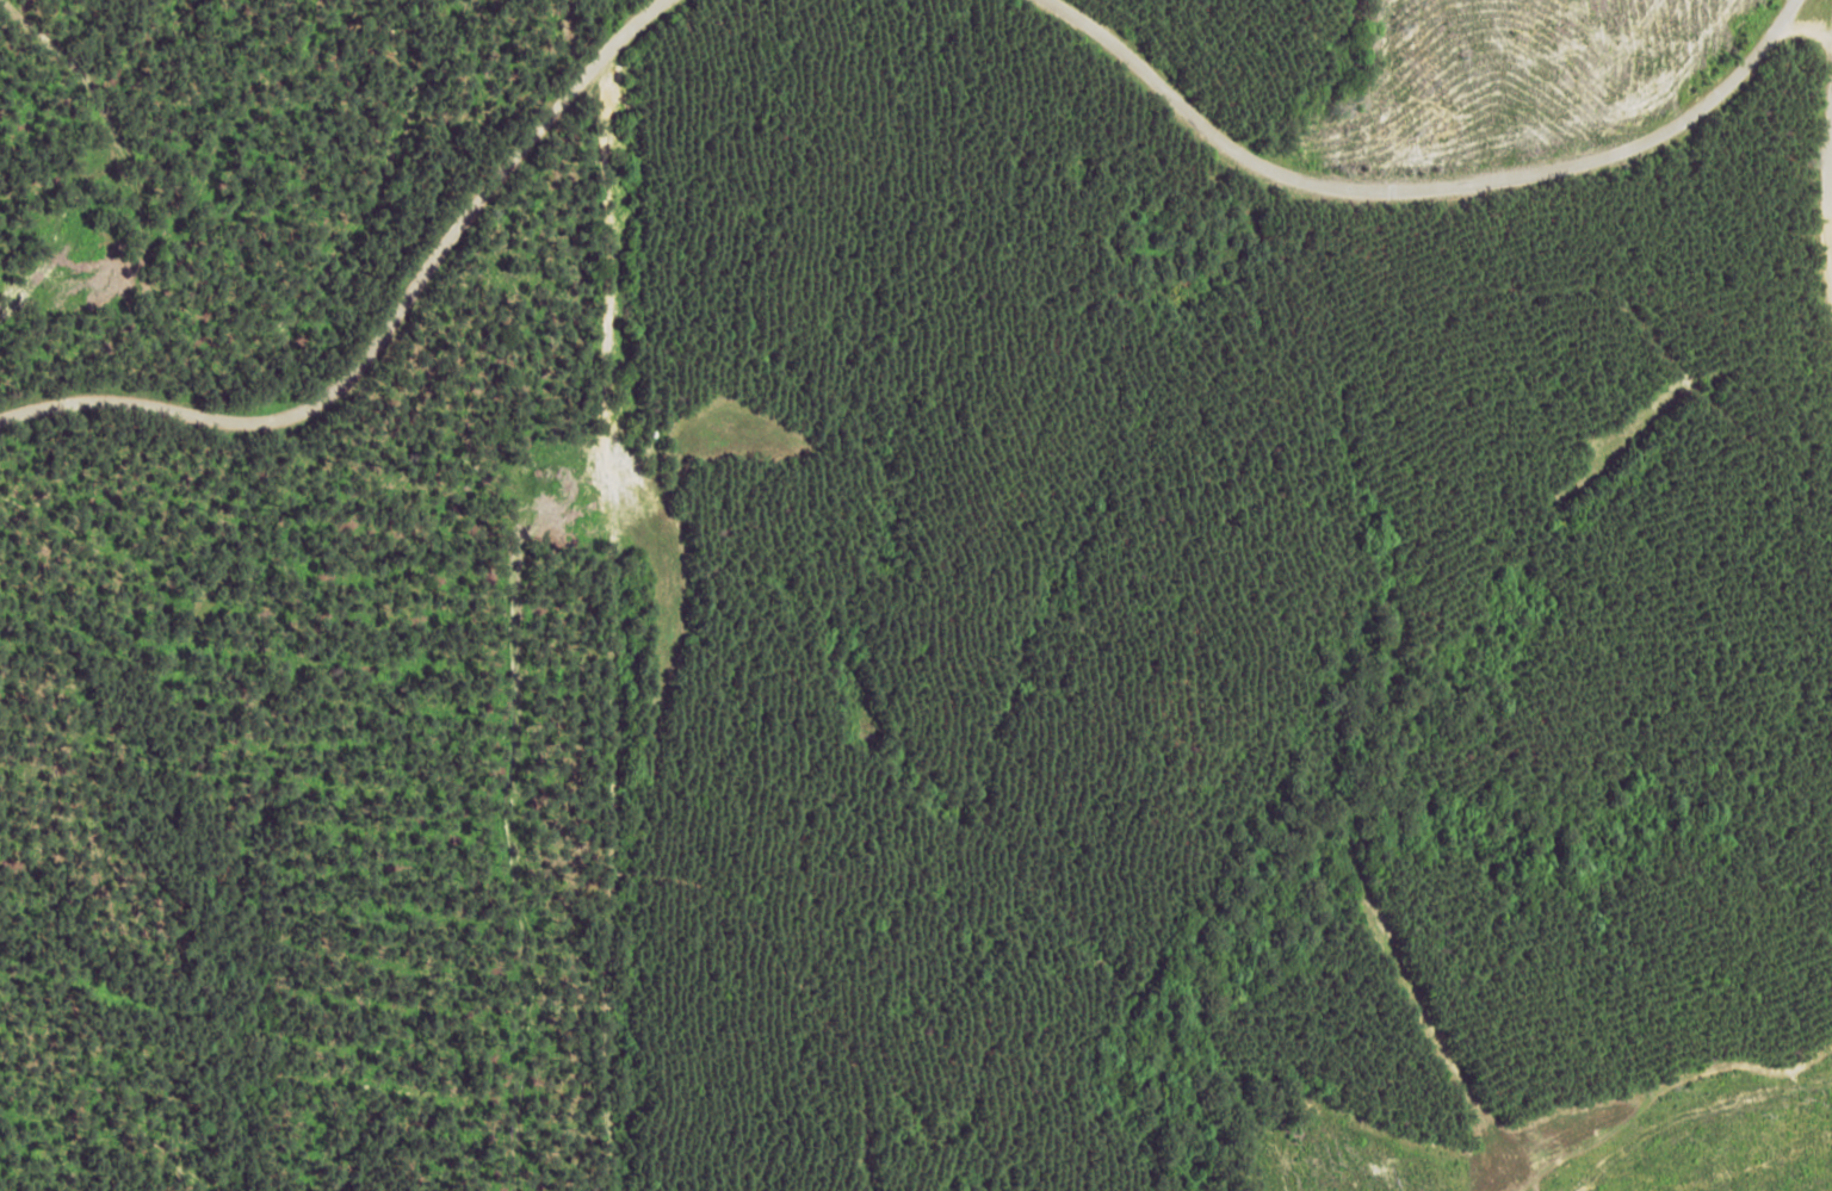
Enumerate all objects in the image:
road: (914, 1)
road: (1821, 114)

